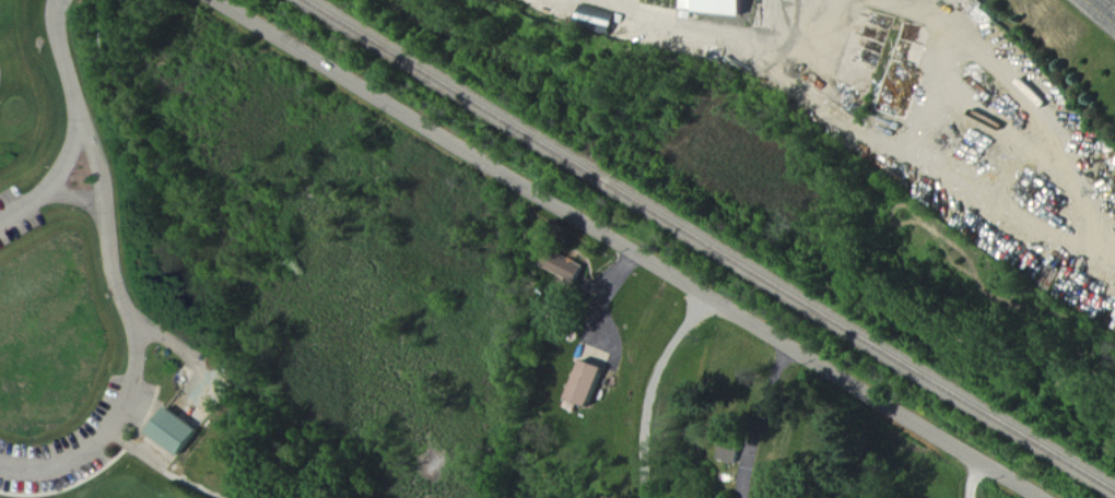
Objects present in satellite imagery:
road: (1093, 2)
building: (714, 4)
road: (1101, 12)
road: (61, 52)
road: (51, 189)
road: (75, 198)
parking lot: (17, 215)
railway: (712, 244)
road: (630, 247)
building: (571, 271)
park: (222, 274)
road: (136, 342)
road: (191, 357)
building: (585, 384)
road: (644, 386)
road: (761, 417)
building: (176, 431)
parking lot: (77, 443)
building: (733, 451)
road: (164, 472)
road: (969, 476)
road: (98, 479)

